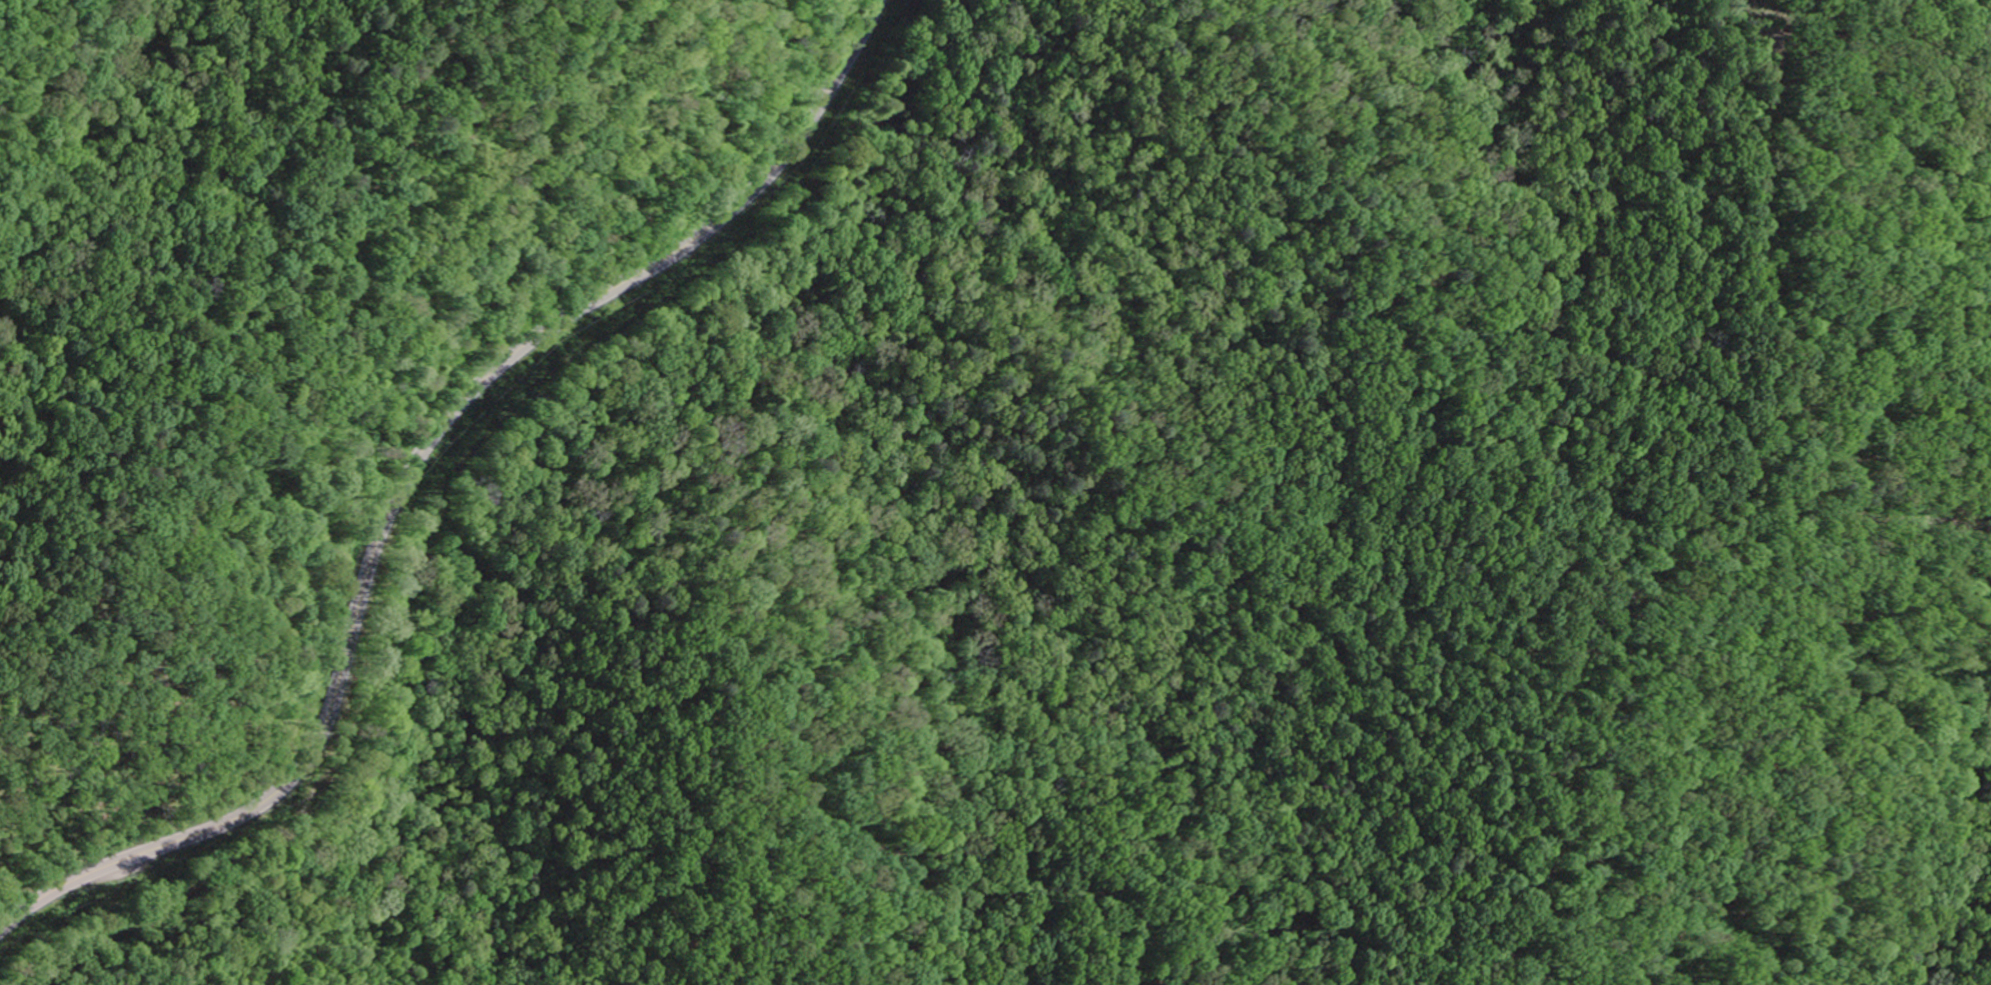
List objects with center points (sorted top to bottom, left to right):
road: (418, 469)
road: (1710, 507)

